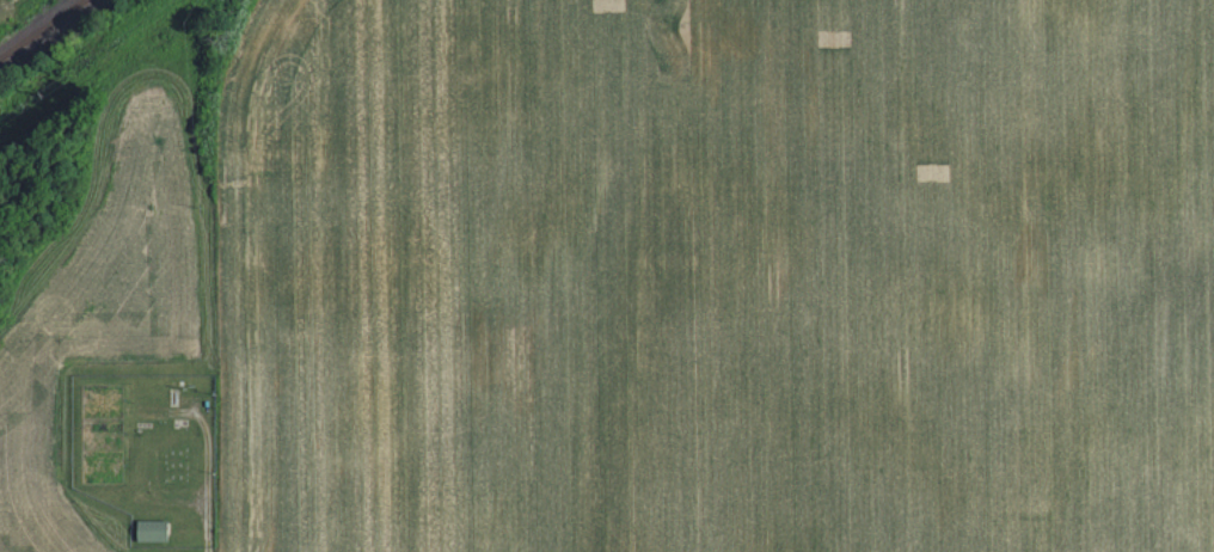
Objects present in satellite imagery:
railway: (45, 31)
road: (210, 480)
building: (154, 528)

